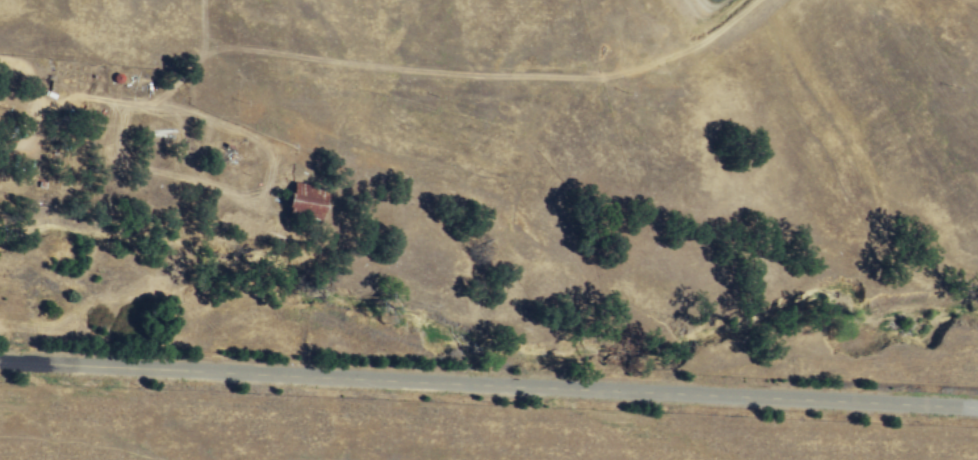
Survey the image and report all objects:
dam: (719, 18)
building: (305, 201)
road: (489, 386)

